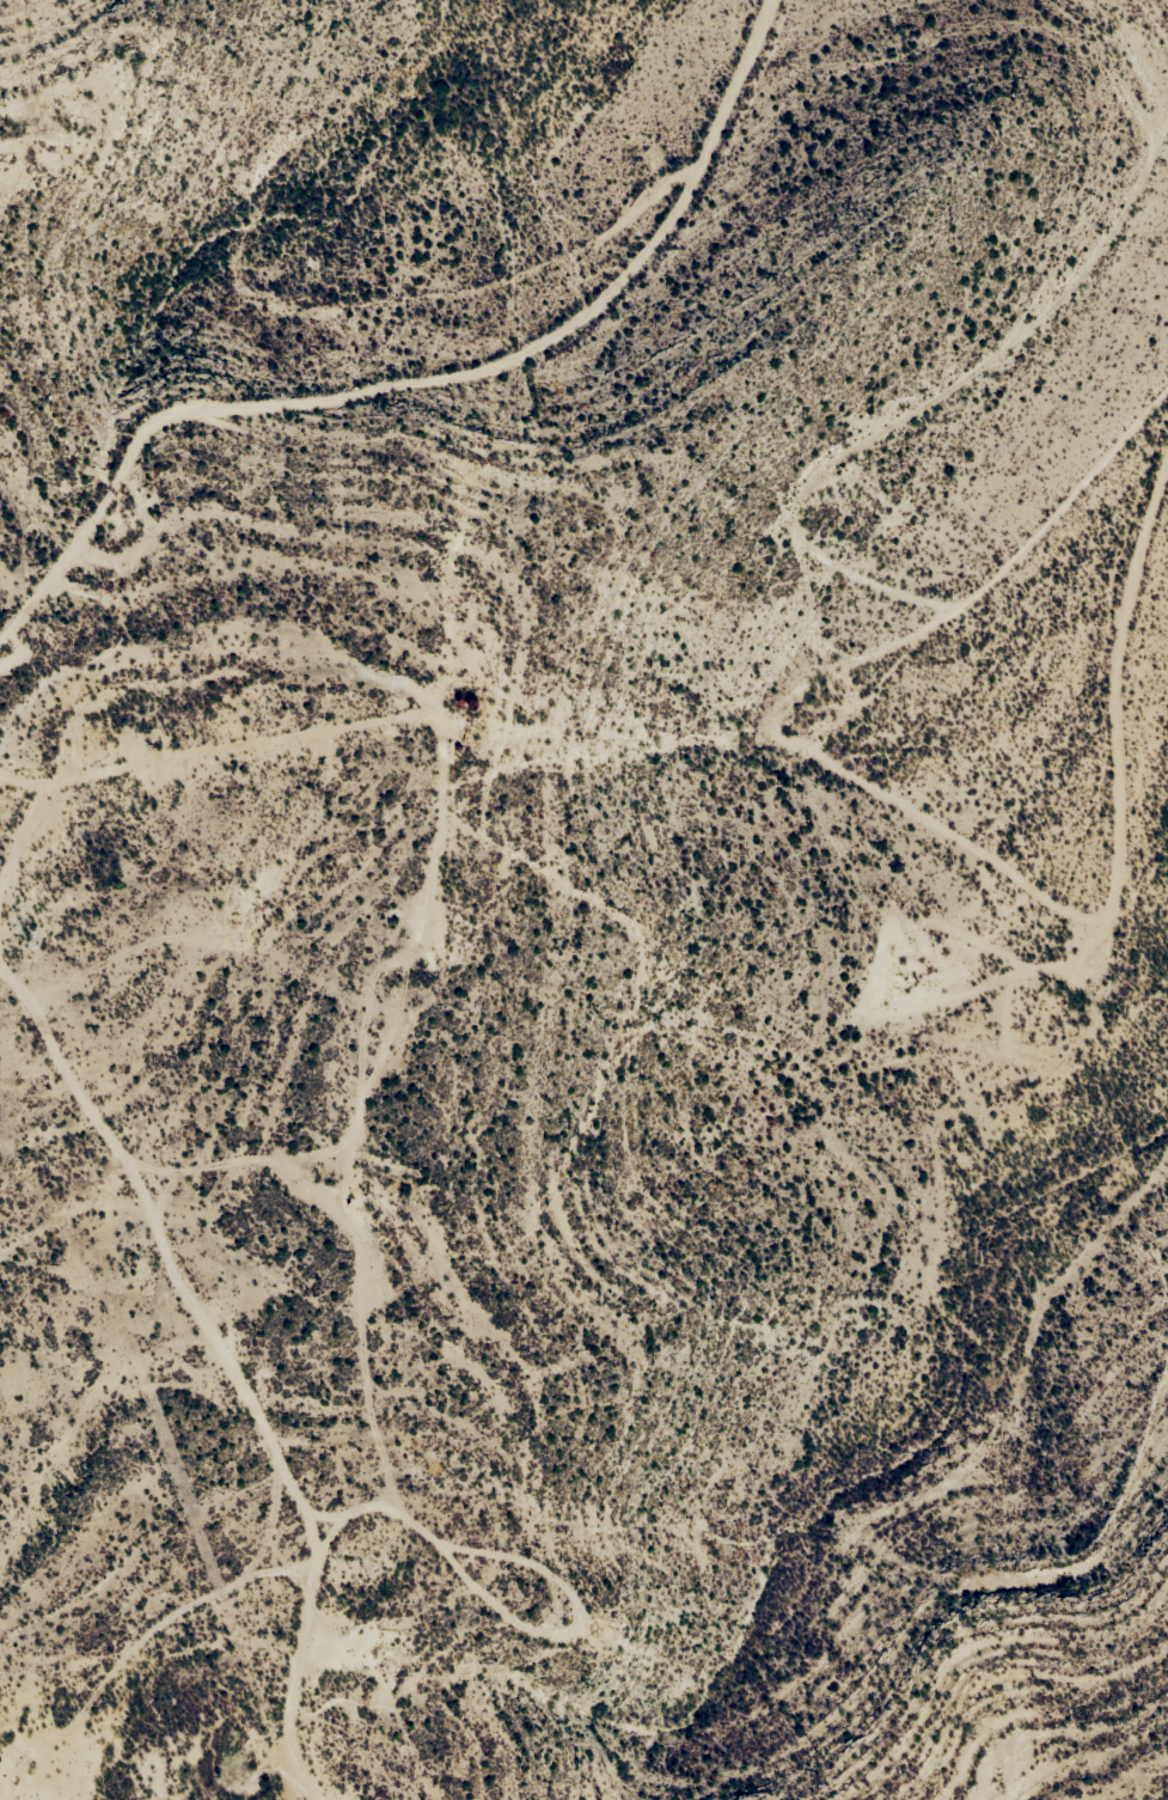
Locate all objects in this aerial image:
road: (416, 385)
road: (232, 1383)

